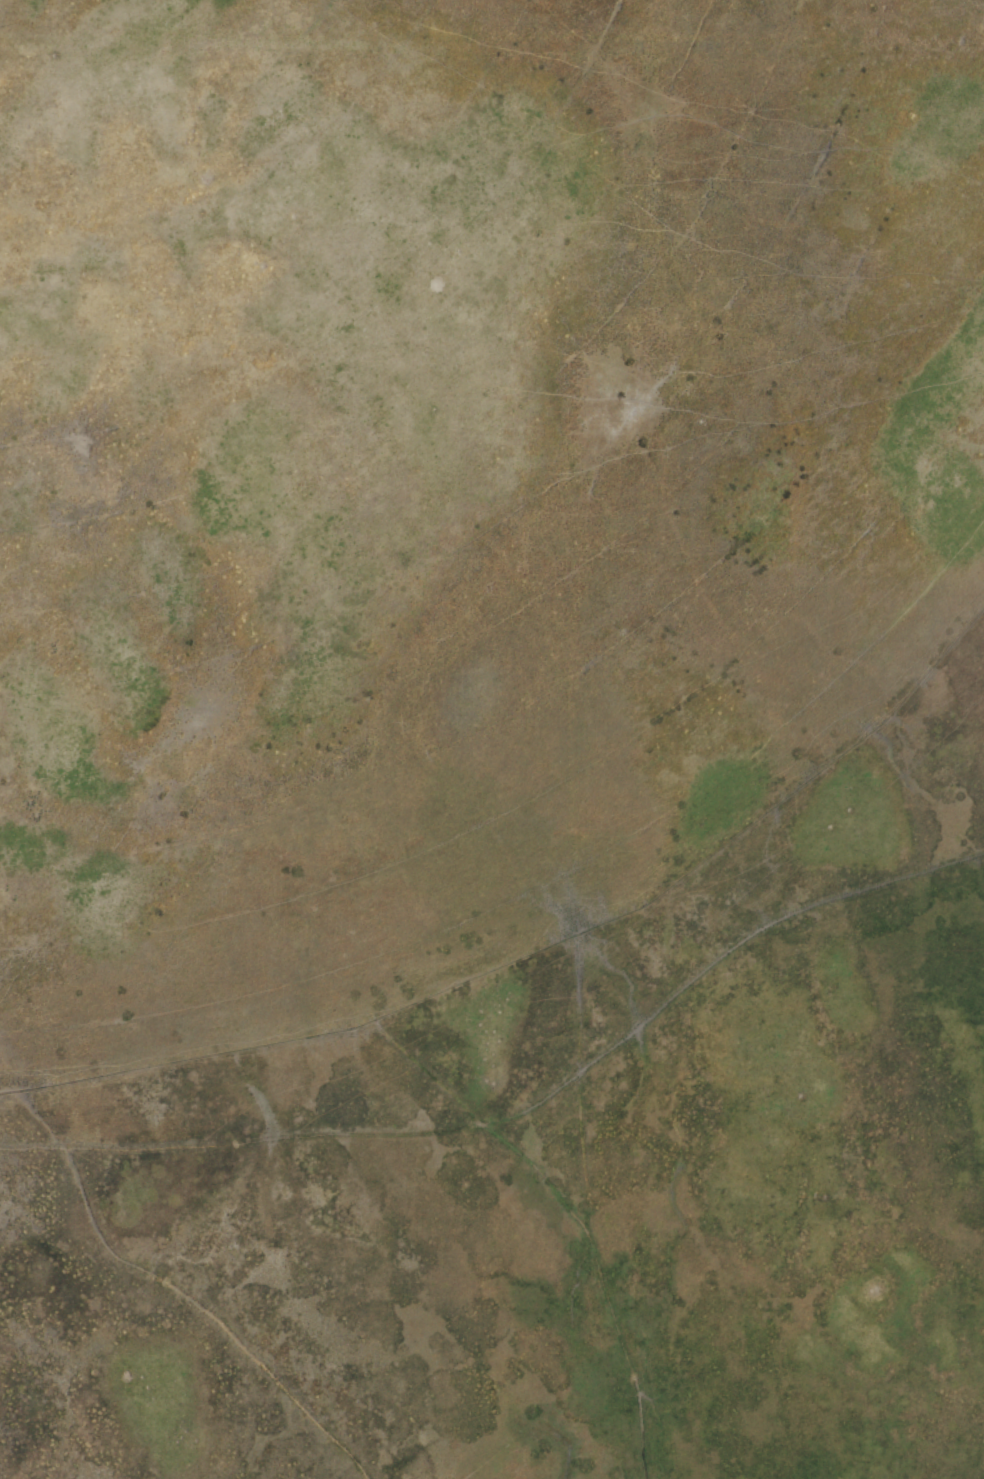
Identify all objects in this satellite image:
crop: (492, 739)

